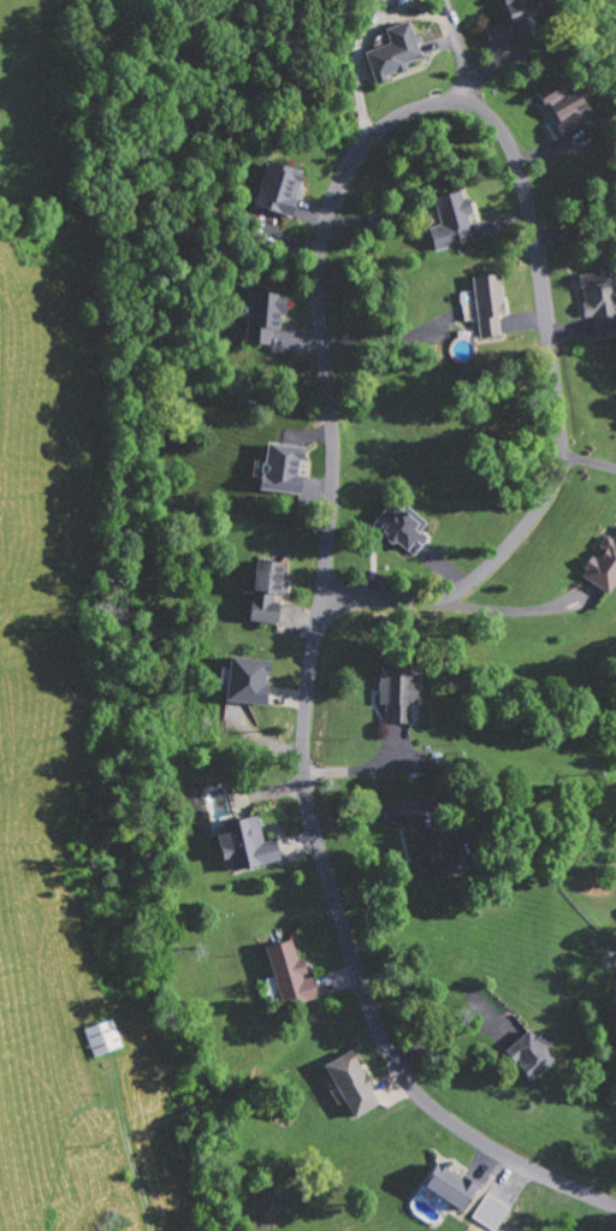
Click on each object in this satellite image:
building: (513, 19)
building: (396, 51)
building: (565, 107)
building: (282, 187)
building: (455, 219)
building: (602, 298)
building: (491, 303)
building: (266, 313)
road: (553, 374)
building: (285, 467)
building: (408, 528)
building: (605, 566)
building: (269, 590)
road: (313, 668)
building: (251, 680)
building: (402, 690)
building: (249, 844)
building: (442, 852)
building: (294, 973)
building: (105, 1037)
building: (534, 1053)
building: (356, 1084)
building: (454, 1185)

